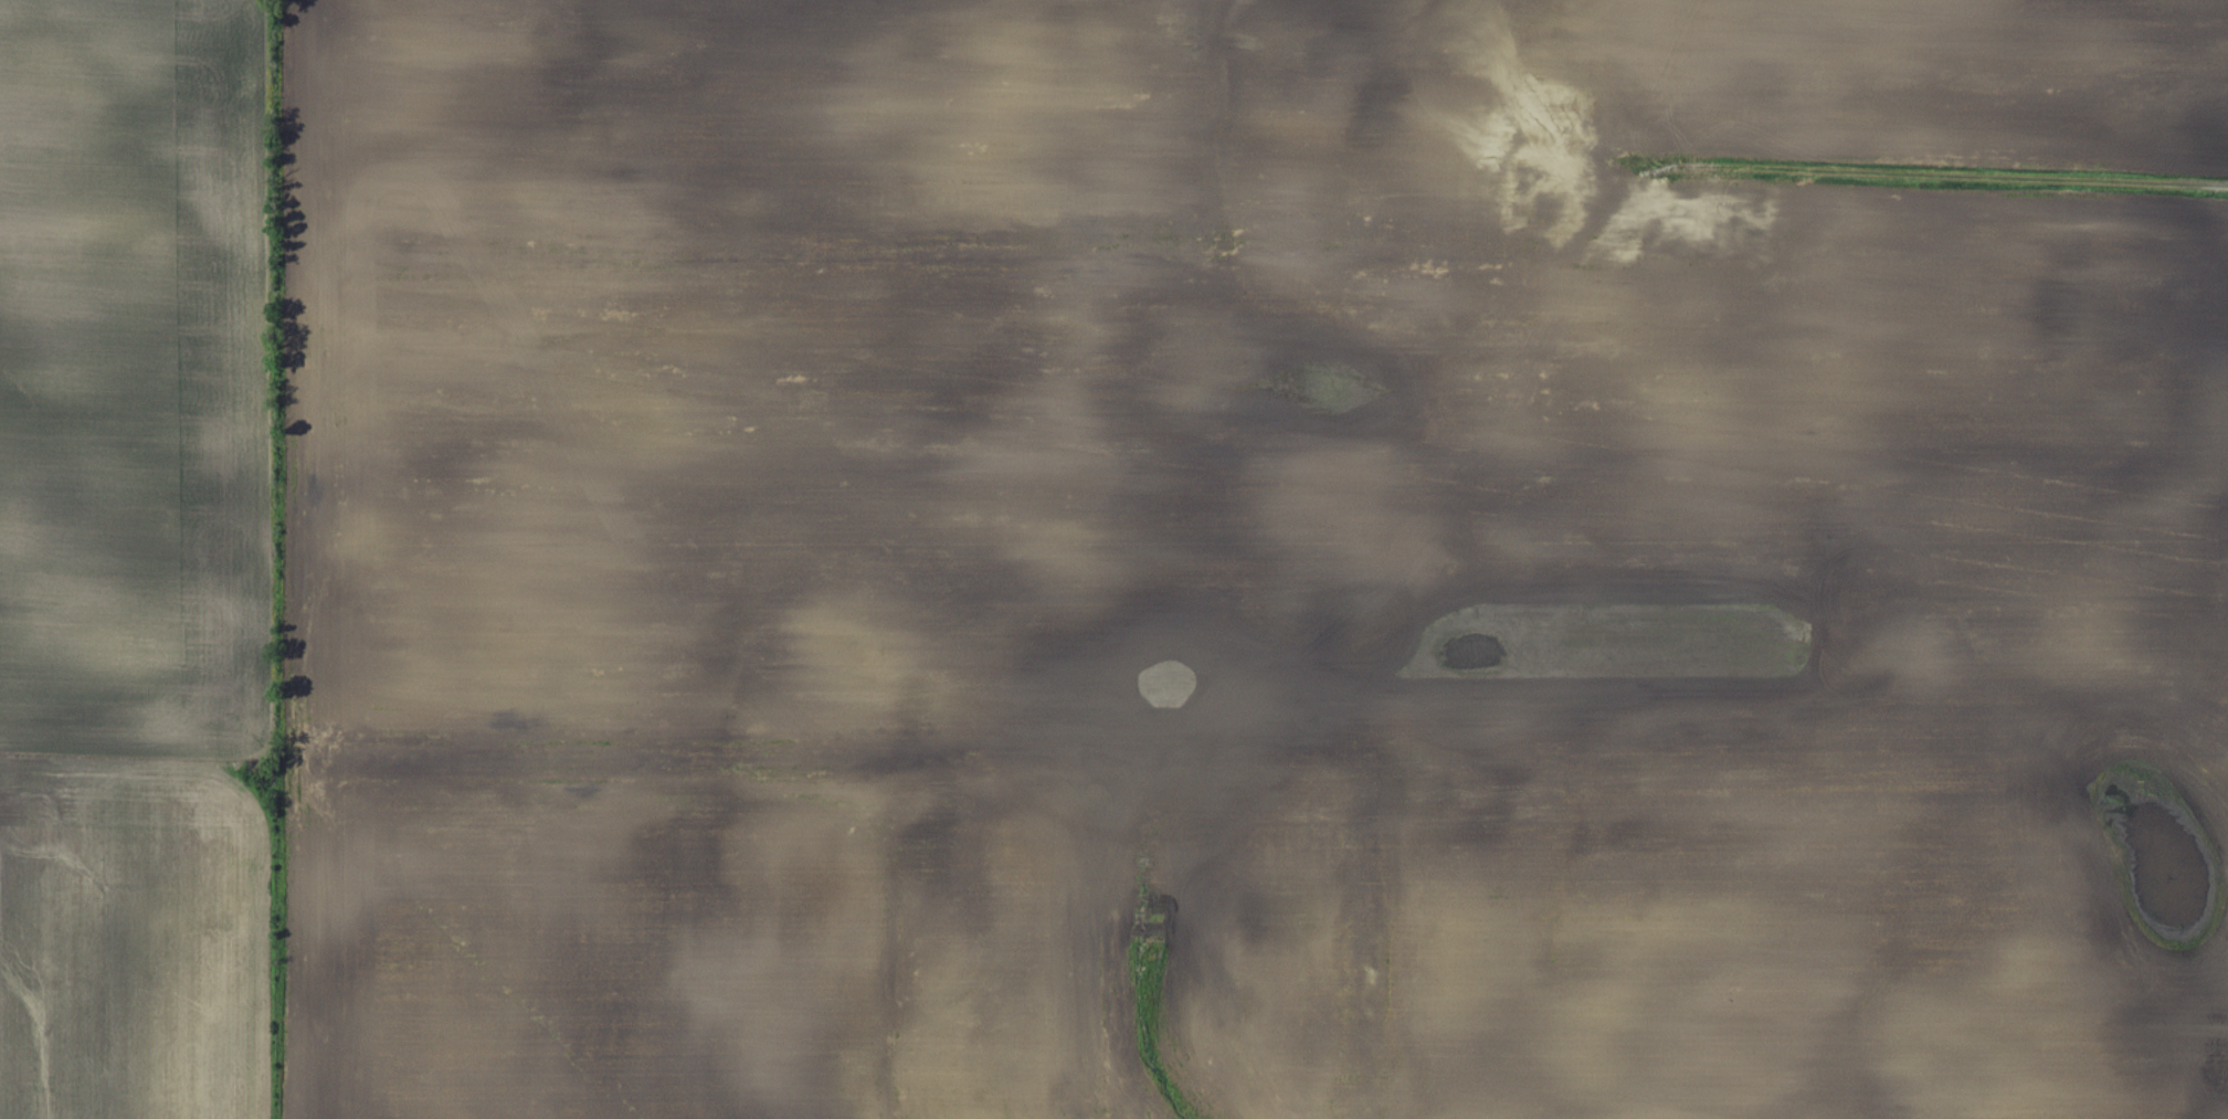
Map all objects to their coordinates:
road: (1988, 176)

